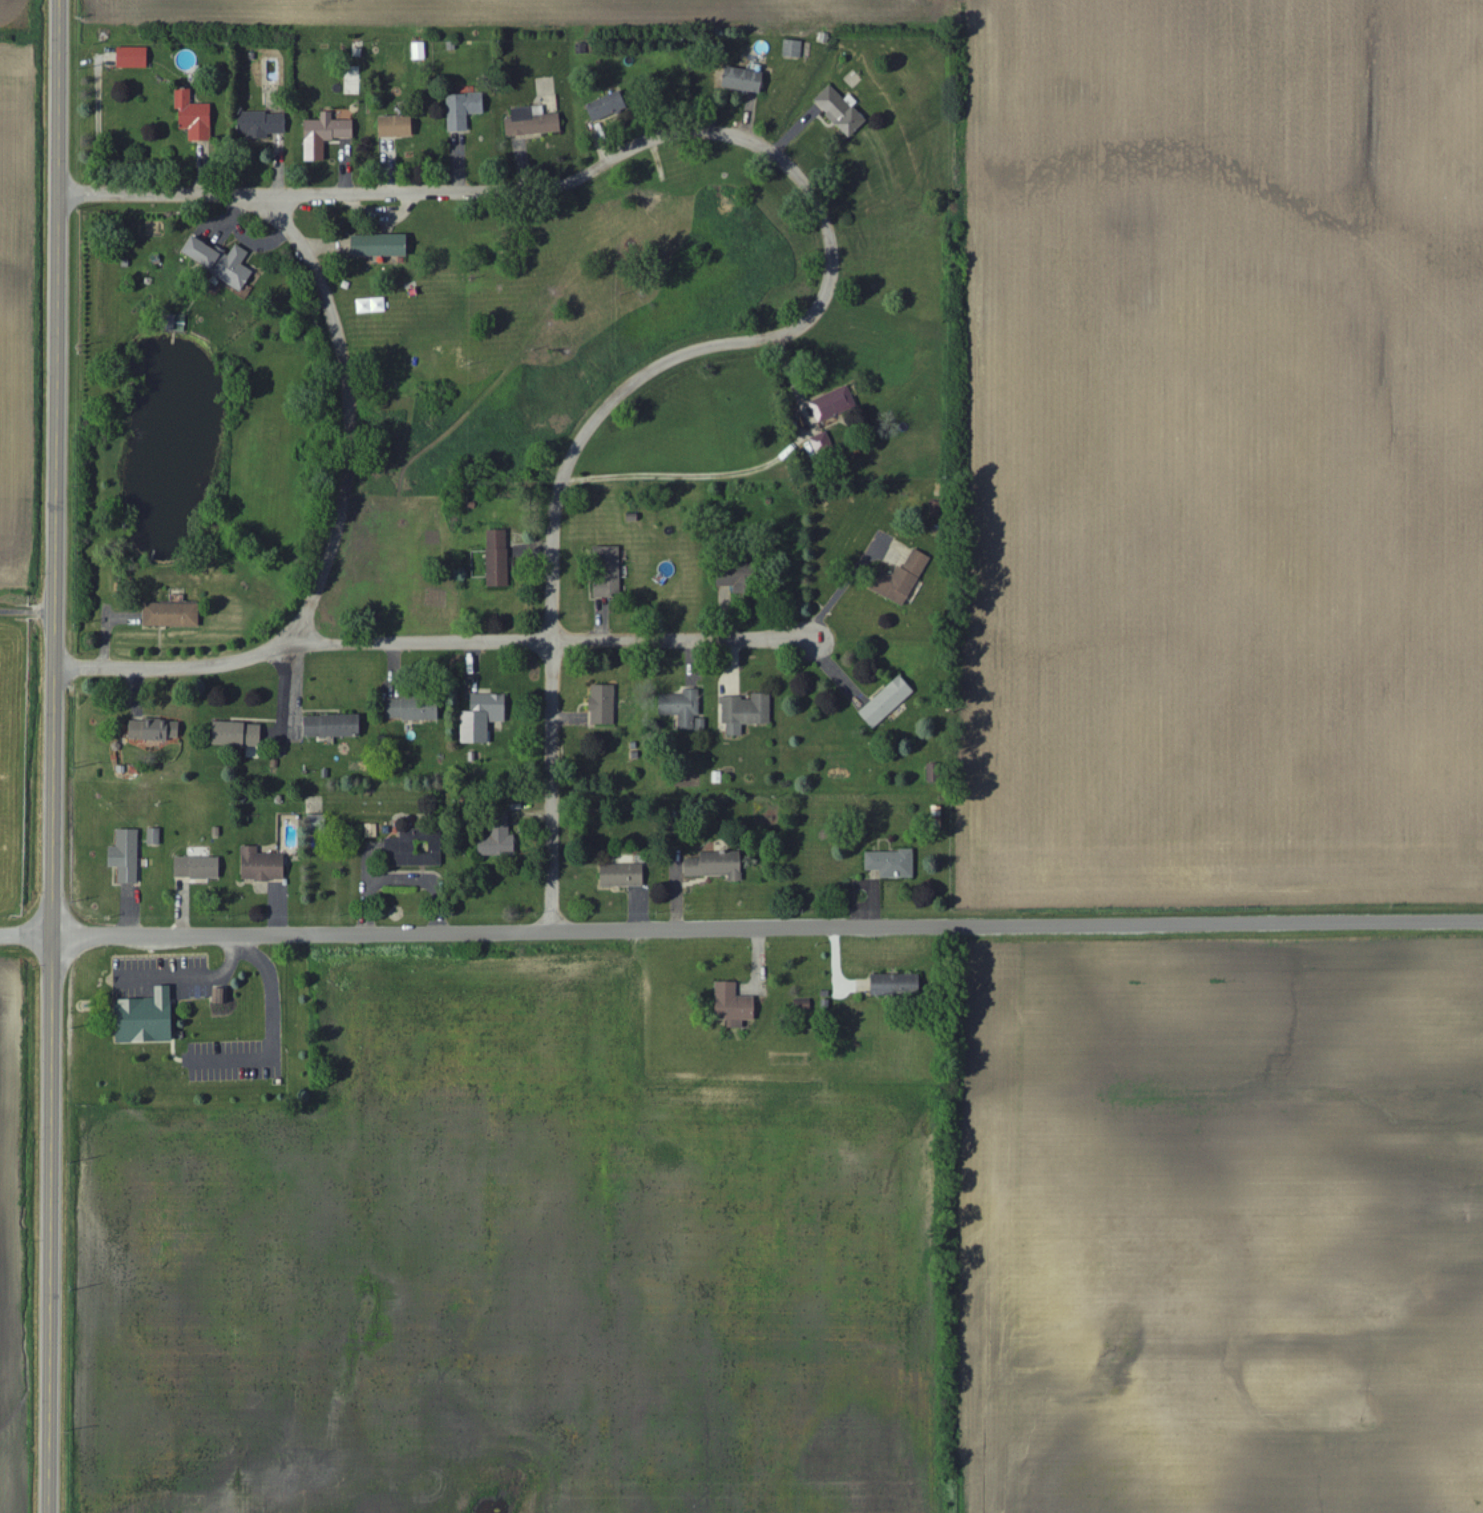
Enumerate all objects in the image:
building: (794, 49)
building: (420, 51)
building: (134, 58)
building: (746, 80)
building: (608, 107)
building: (465, 110)
building: (843, 111)
building: (195, 117)
building: (534, 122)
building: (262, 125)
building: (398, 127)
building: (328, 133)
road: (744, 138)
building: (382, 246)
building: (222, 261)
building: (834, 404)
road: (349, 405)
building: (824, 444)
building: (499, 559)
building: (610, 572)
building: (908, 578)
building: (734, 579)
road: (28, 611)
building: (173, 615)
road: (548, 641)
road: (180, 666)
building: (888, 703)
building: (604, 705)
building: (414, 710)
building: (685, 710)
building: (747, 713)
building: (484, 718)
building: (334, 727)
building: (155, 731)
building: (239, 735)
road: (56, 756)
road: (553, 786)
building: (318, 822)
building: (155, 837)
building: (499, 844)
building: (416, 850)
building: (127, 856)
building: (893, 864)
building: (263, 866)
building: (717, 866)
building: (198, 868)
building: (624, 876)
road: (741, 929)
building: (898, 988)
building: (735, 1006)
building: (148, 1017)

